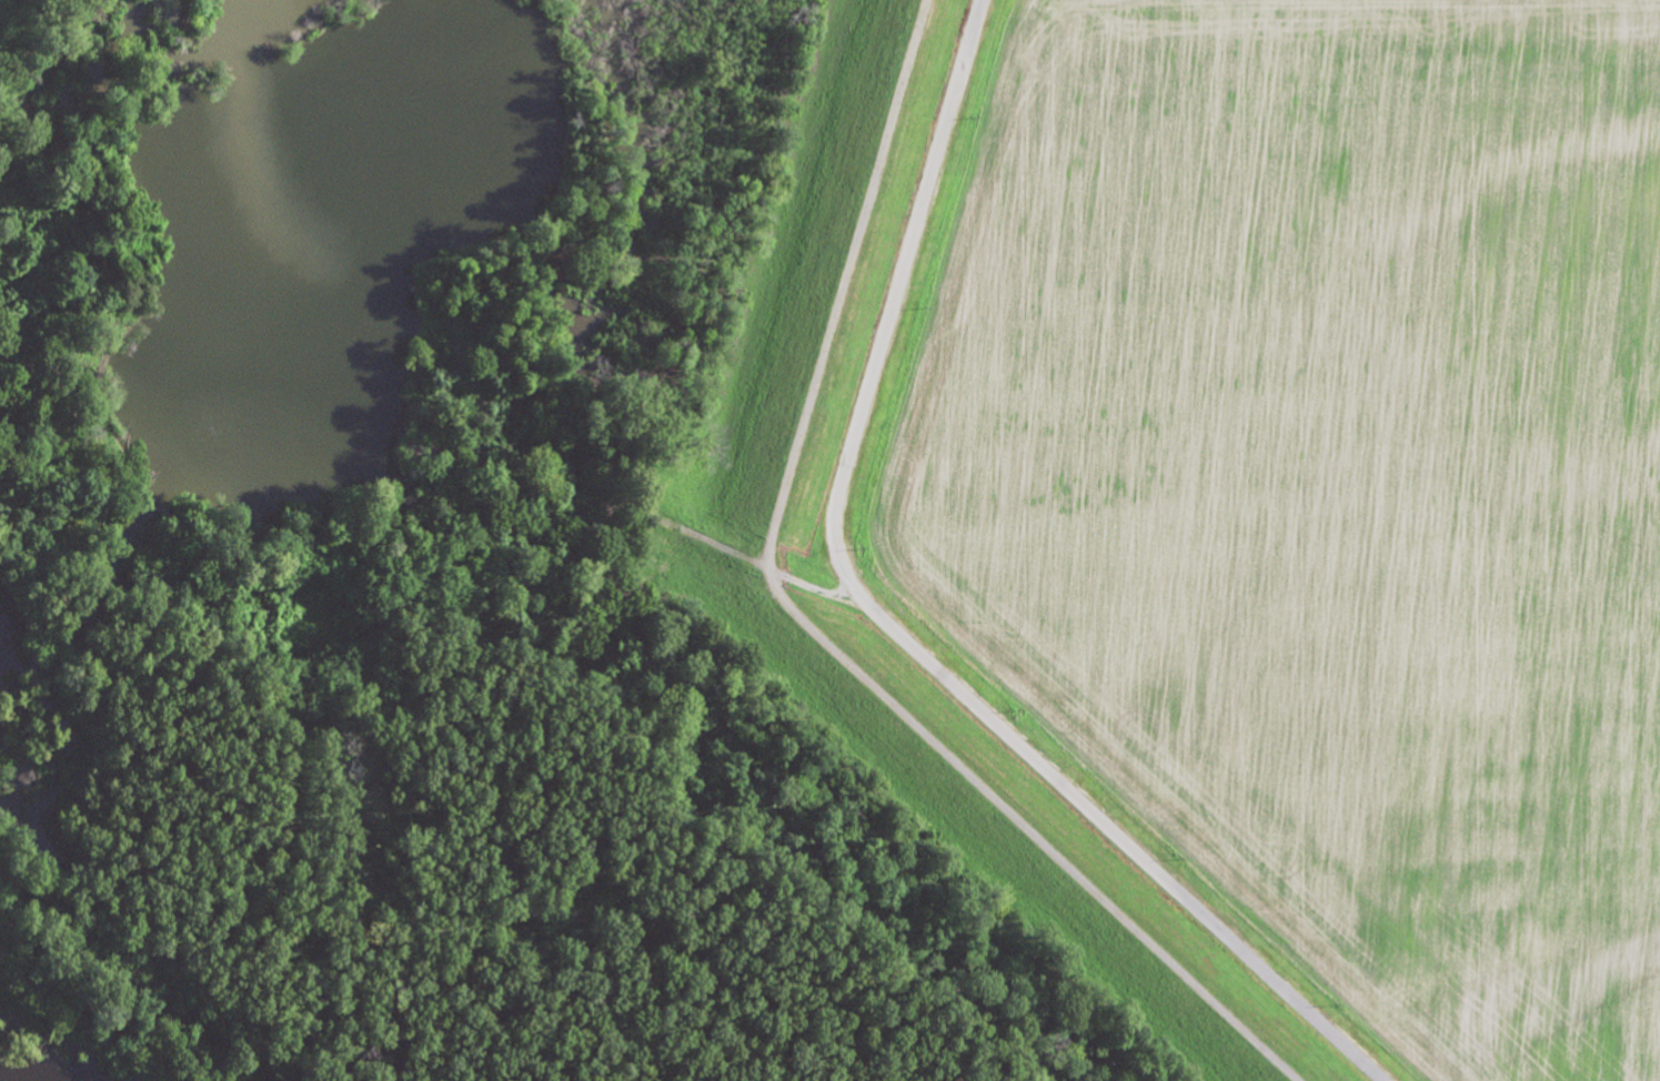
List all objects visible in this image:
road: (755, 560)
road: (898, 627)
road: (812, 628)

